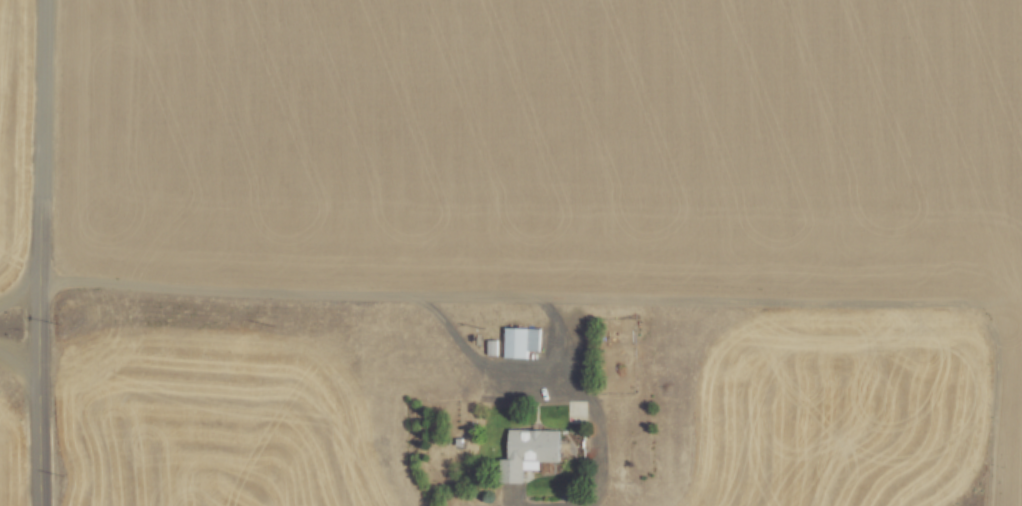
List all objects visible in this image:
road: (44, 103)
building: (522, 342)
road: (43, 356)
building: (528, 455)

